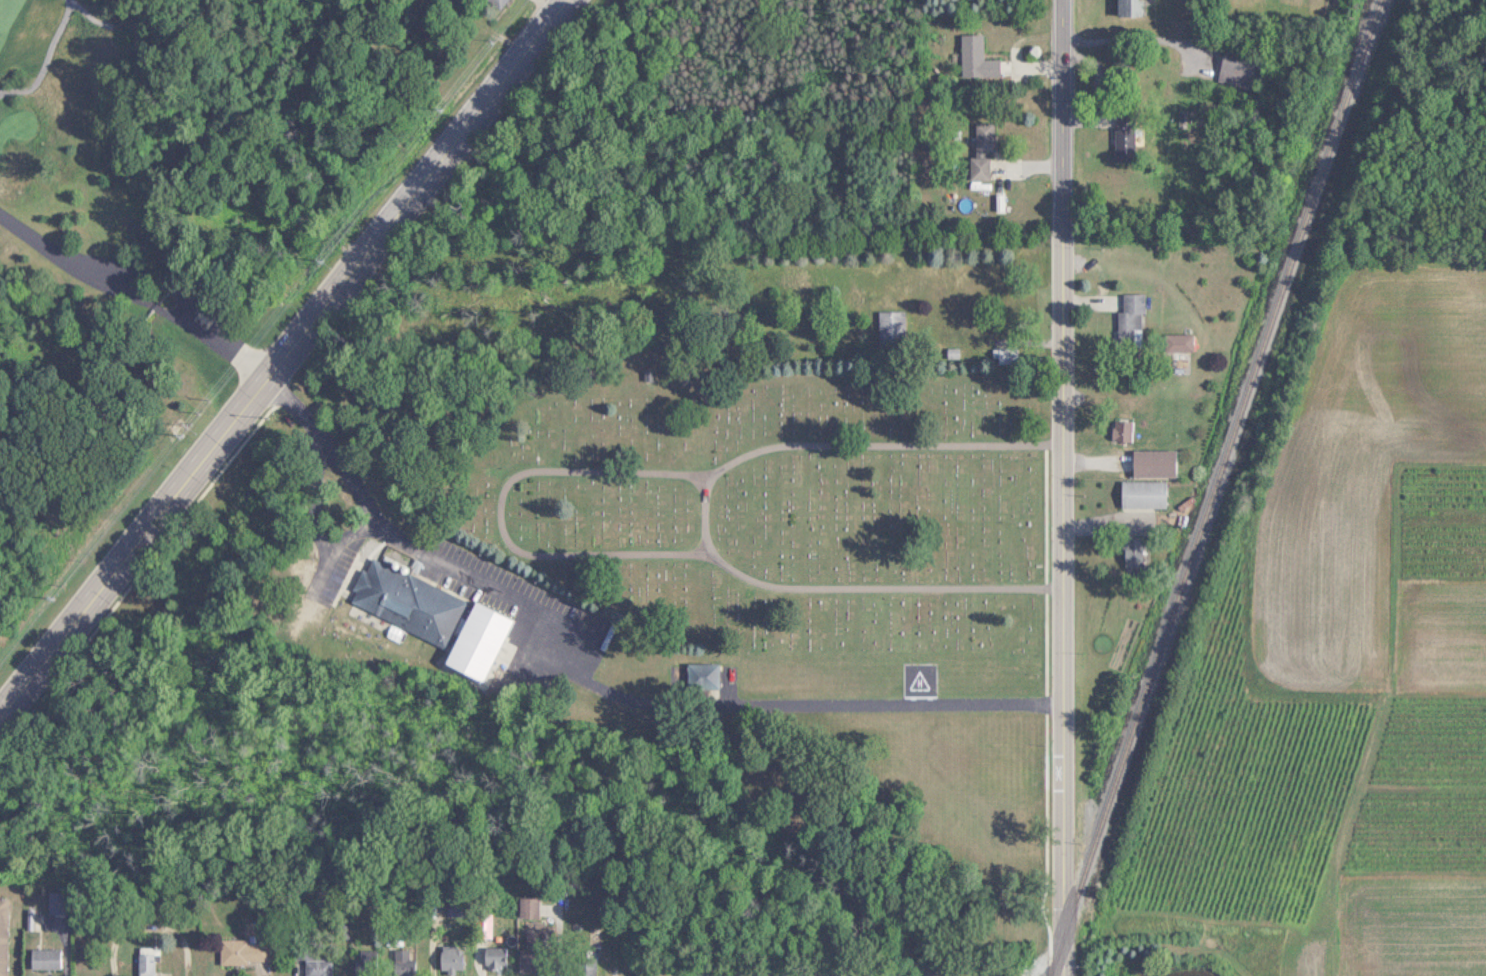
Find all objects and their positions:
building: (495, 3)
road: (72, 6)
building: (1129, 8)
road: (88, 14)
road: (45, 58)
building: (976, 58)
building: (1236, 69)
park: (64, 71)
road: (1061, 110)
building: (1123, 137)
building: (981, 151)
road: (134, 295)
road: (185, 297)
building: (1130, 318)
building: (890, 327)
building: (1177, 342)
building: (1004, 356)
road: (283, 357)
building: (1120, 431)
building: (1153, 463)
railway: (1213, 488)
building: (1142, 494)
park: (770, 499)
road: (317, 502)
road: (338, 548)
road: (419, 549)
building: (1131, 551)
road: (1061, 597)
building: (405, 600)
building: (700, 678)
road: (815, 702)
building: (54, 902)
building: (527, 907)
building: (2, 937)
building: (244, 951)
building: (529, 951)
building: (493, 957)
building: (42, 958)
building: (449, 958)
building: (143, 961)
building: (402, 962)
building: (316, 967)
building: (583, 968)

